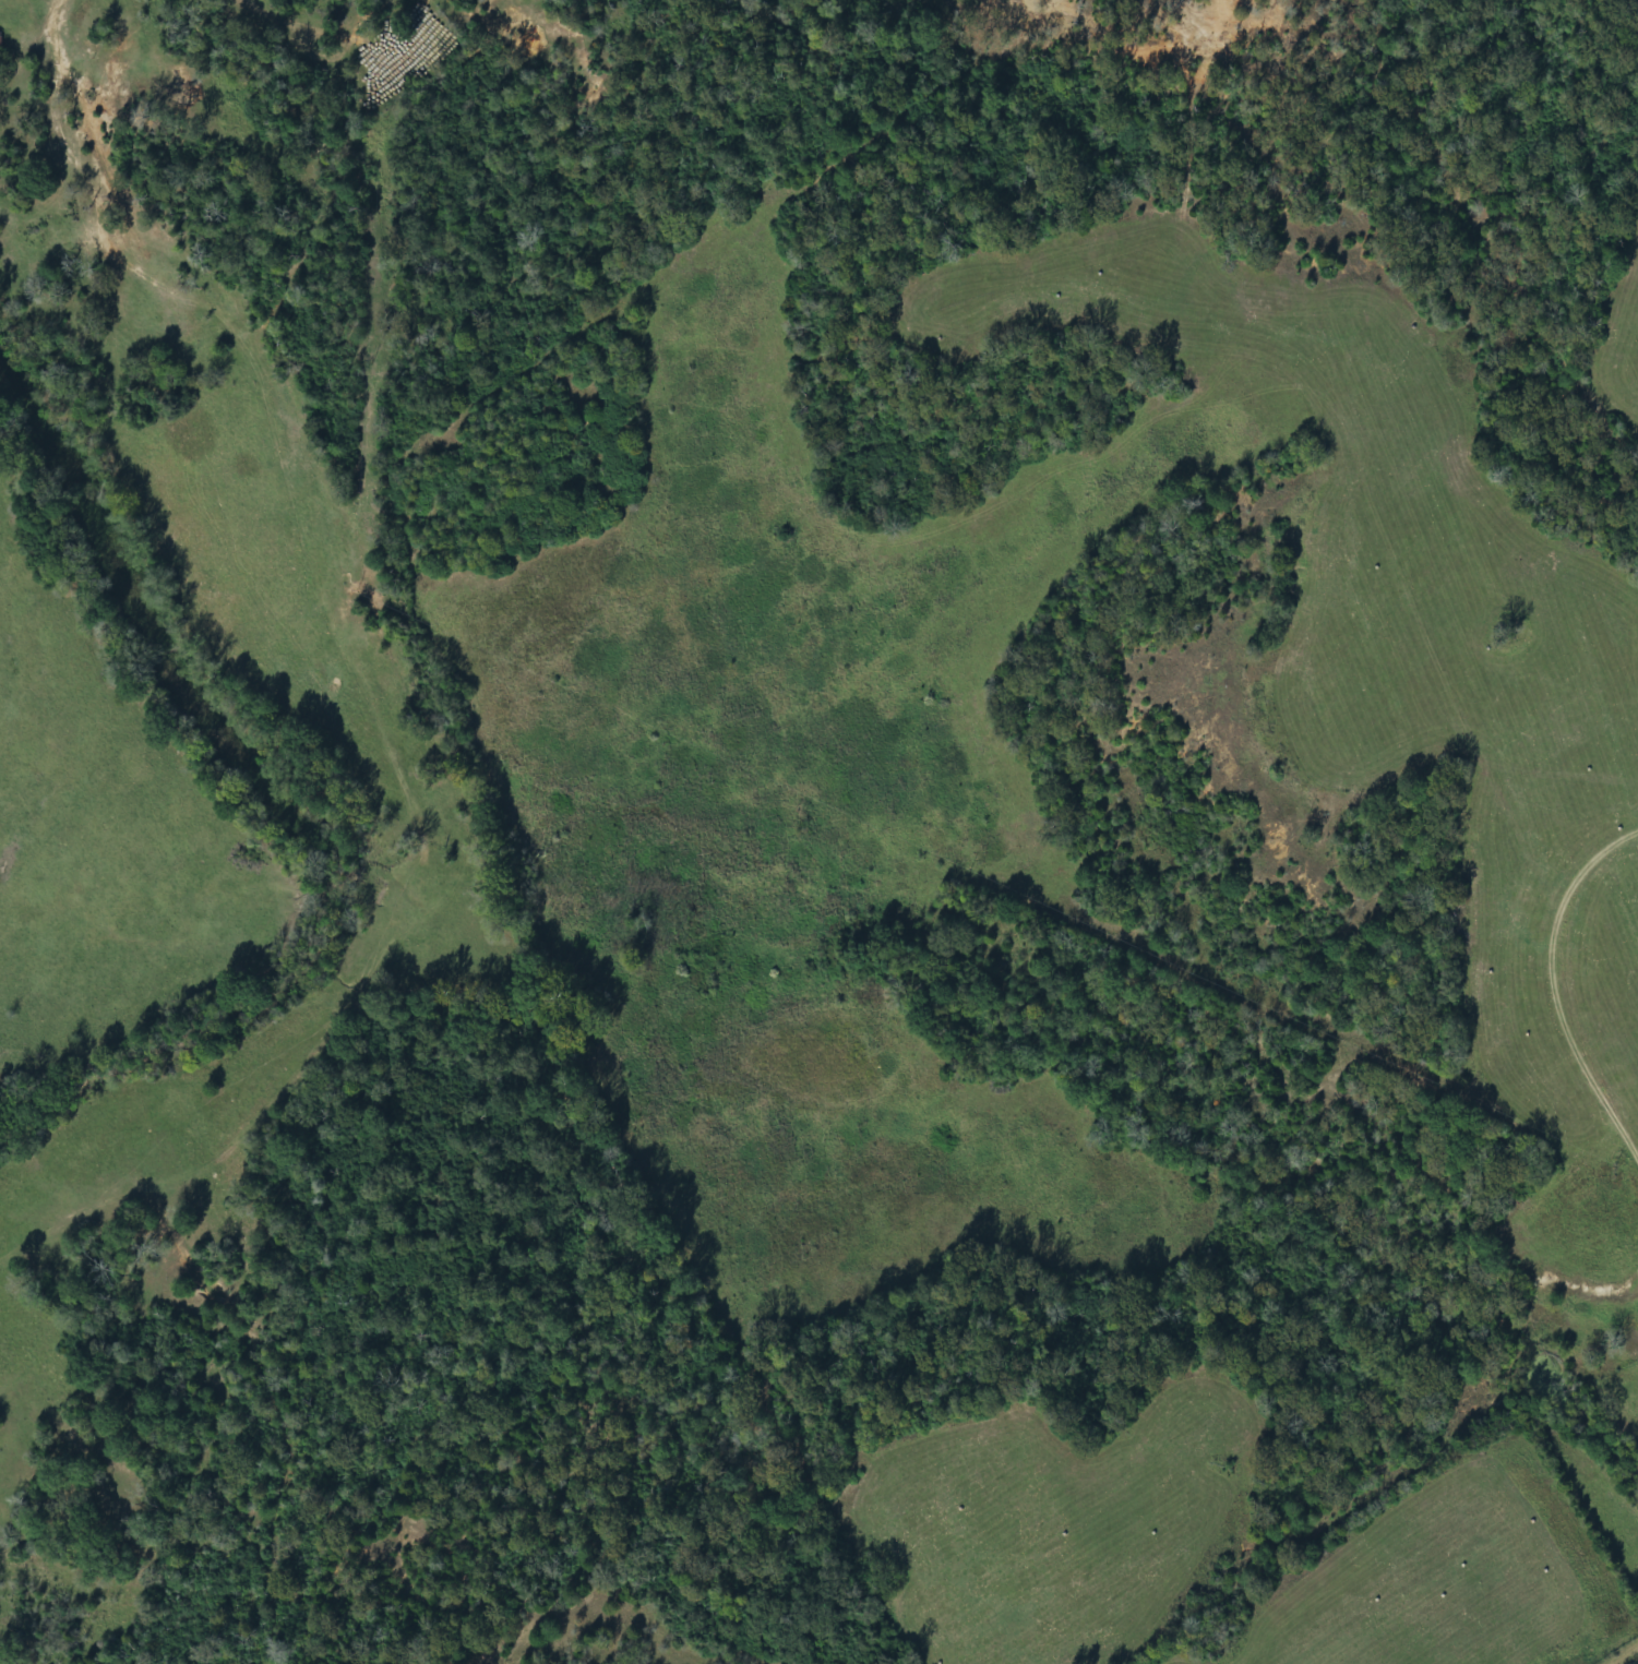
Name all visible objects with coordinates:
road: (1634, 1661)

